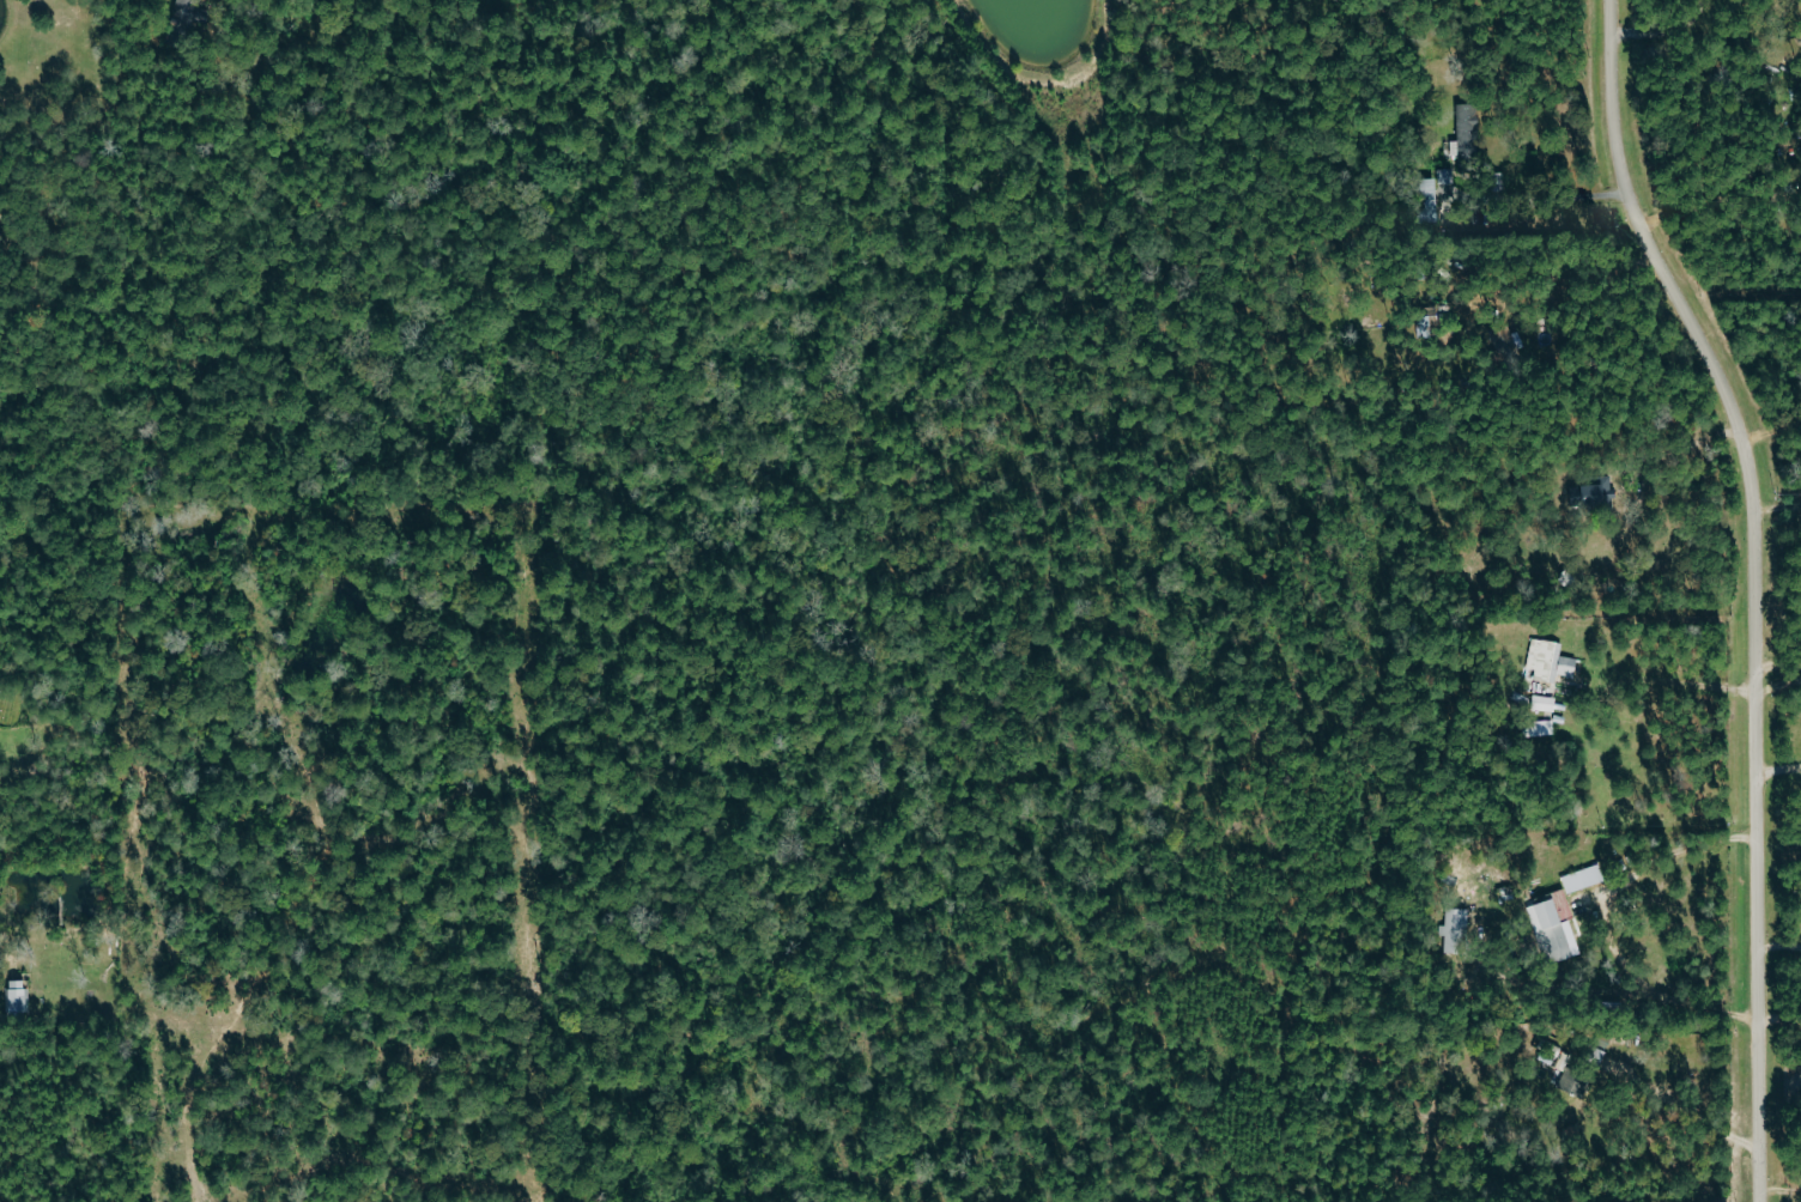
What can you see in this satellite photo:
building: (186, 18)
road: (1663, 35)
building: (1467, 133)
road: (1553, 198)
building: (1429, 200)
road: (1767, 433)
road: (1679, 451)
building: (1594, 492)
road: (1776, 503)
road: (1752, 587)
building: (1548, 661)
road: (1777, 666)
road: (1685, 682)
building: (1533, 702)
building: (1538, 728)
road: (1776, 770)
road: (1675, 852)
building: (1583, 879)
building: (1553, 927)
building: (1455, 930)
road: (1777, 945)
road: (10, 958)
building: (17, 997)
road: (1676, 1000)
building: (1573, 1082)
road: (1676, 1107)
road: (1778, 1190)

